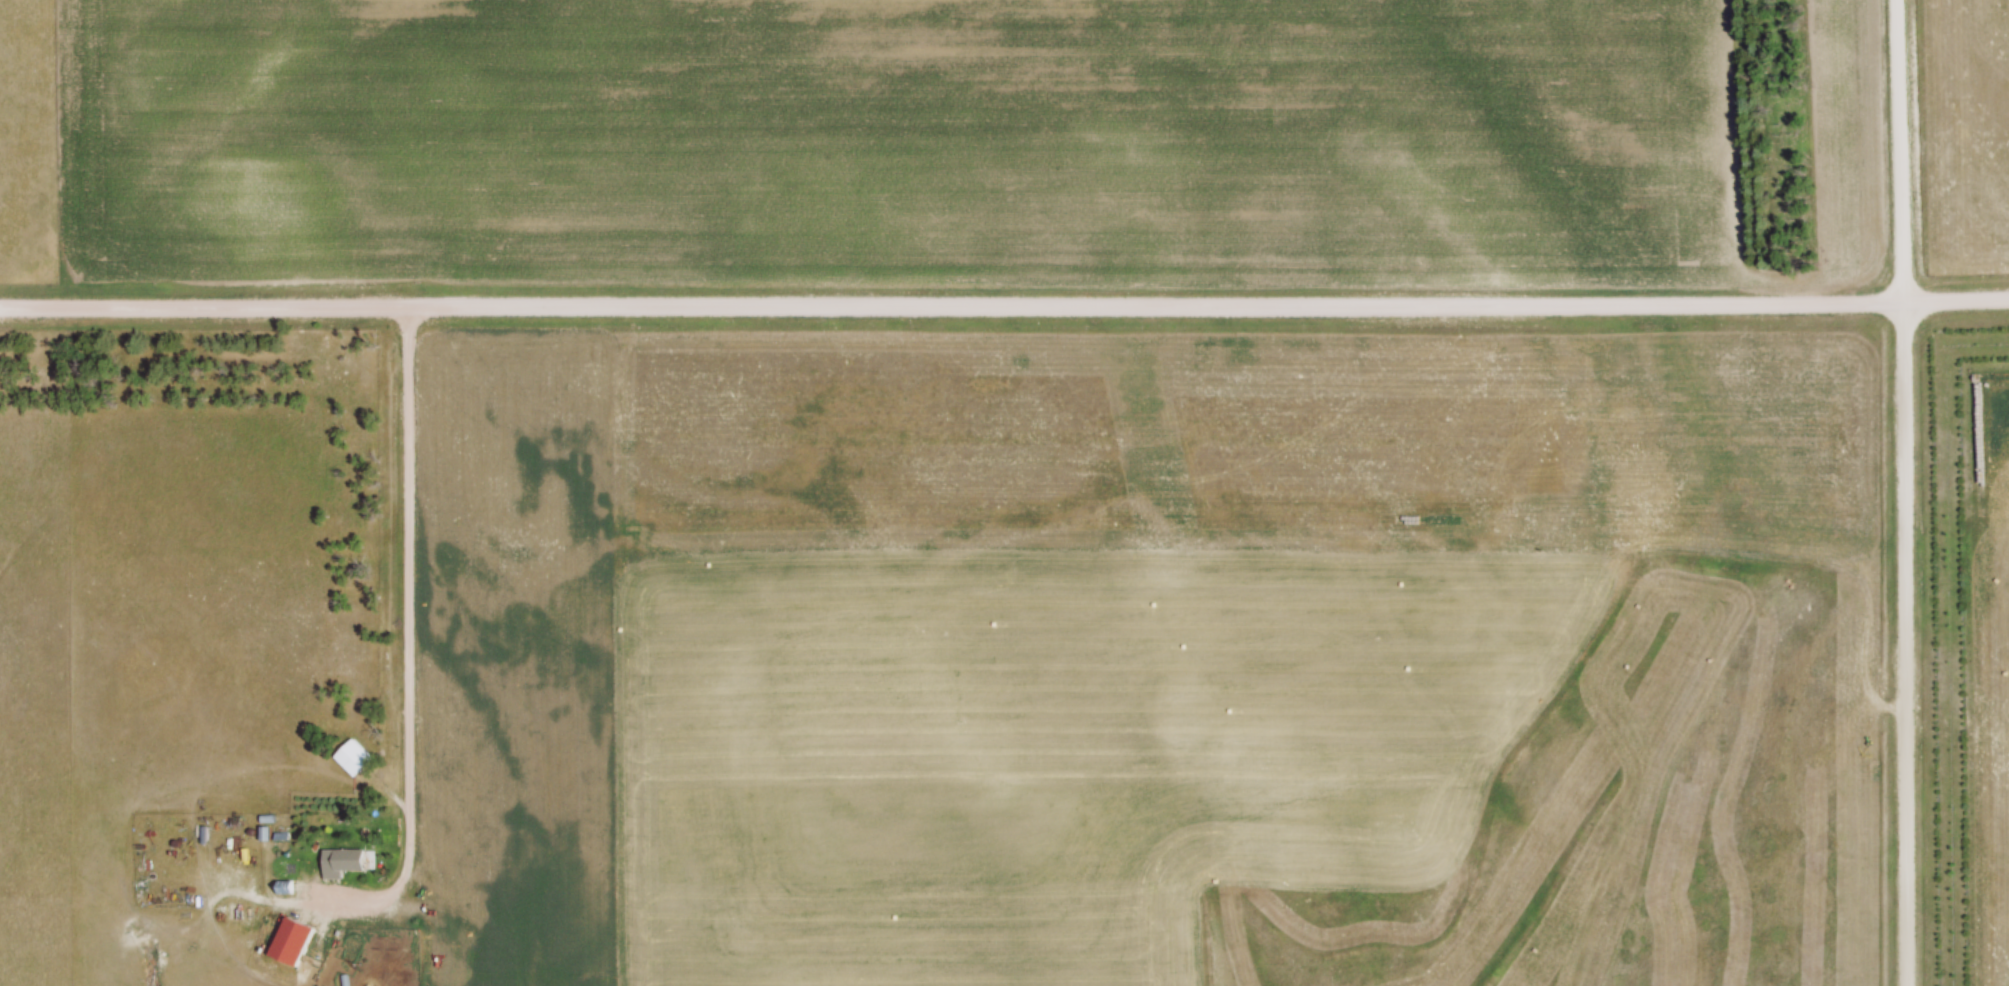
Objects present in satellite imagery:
road: (1004, 306)
road: (1905, 492)
road: (408, 629)
building: (351, 860)
building: (301, 929)

